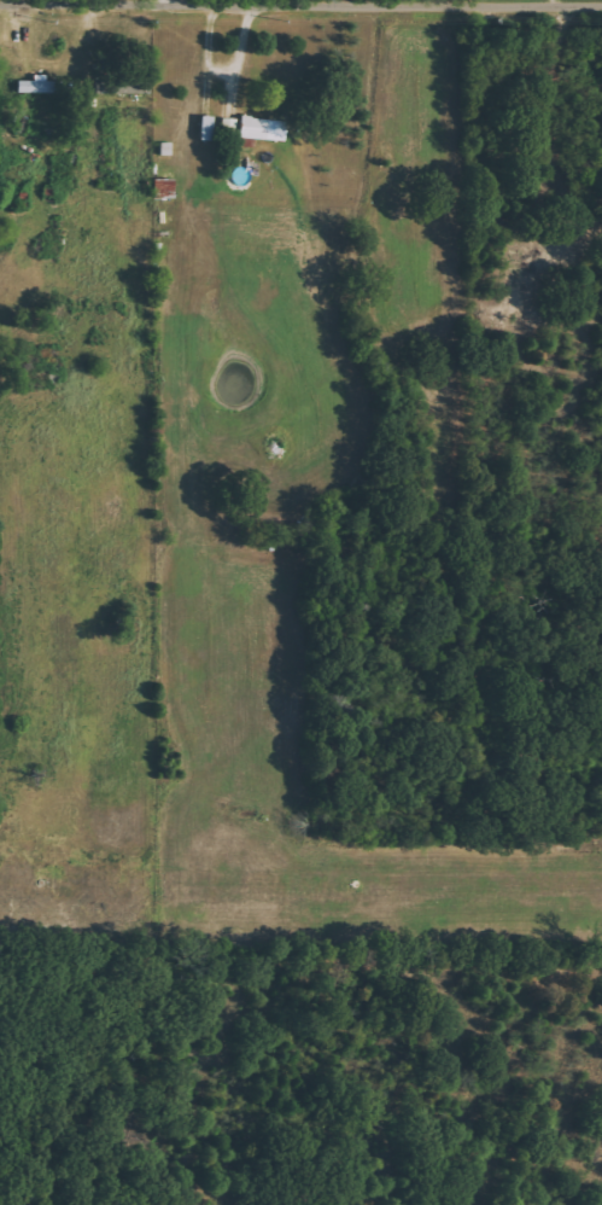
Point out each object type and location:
road: (300, 5)
building: (45, 86)
building: (123, 87)
building: (208, 128)
building: (262, 129)
building: (164, 186)

